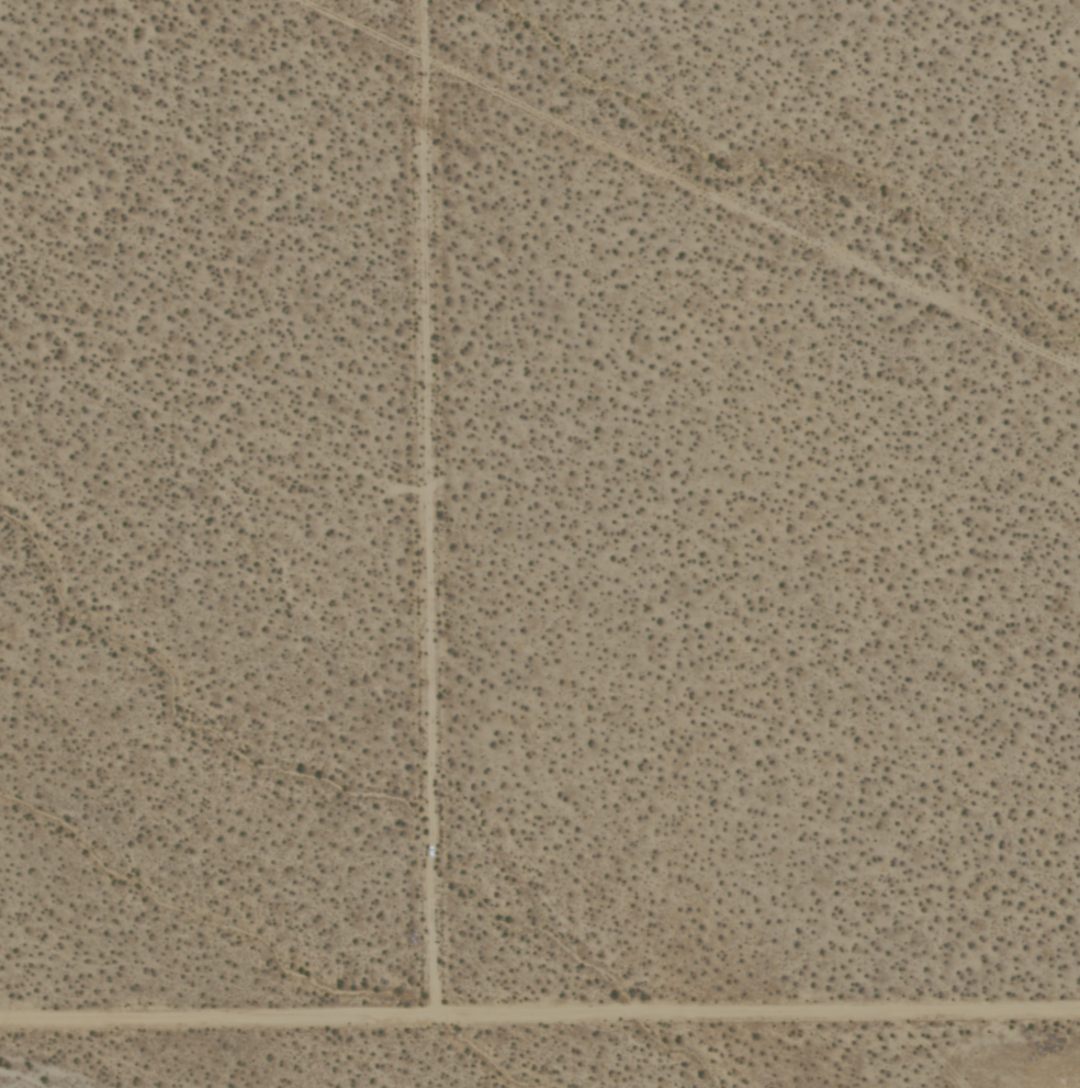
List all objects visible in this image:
road: (754, 1011)
road: (214, 1014)

